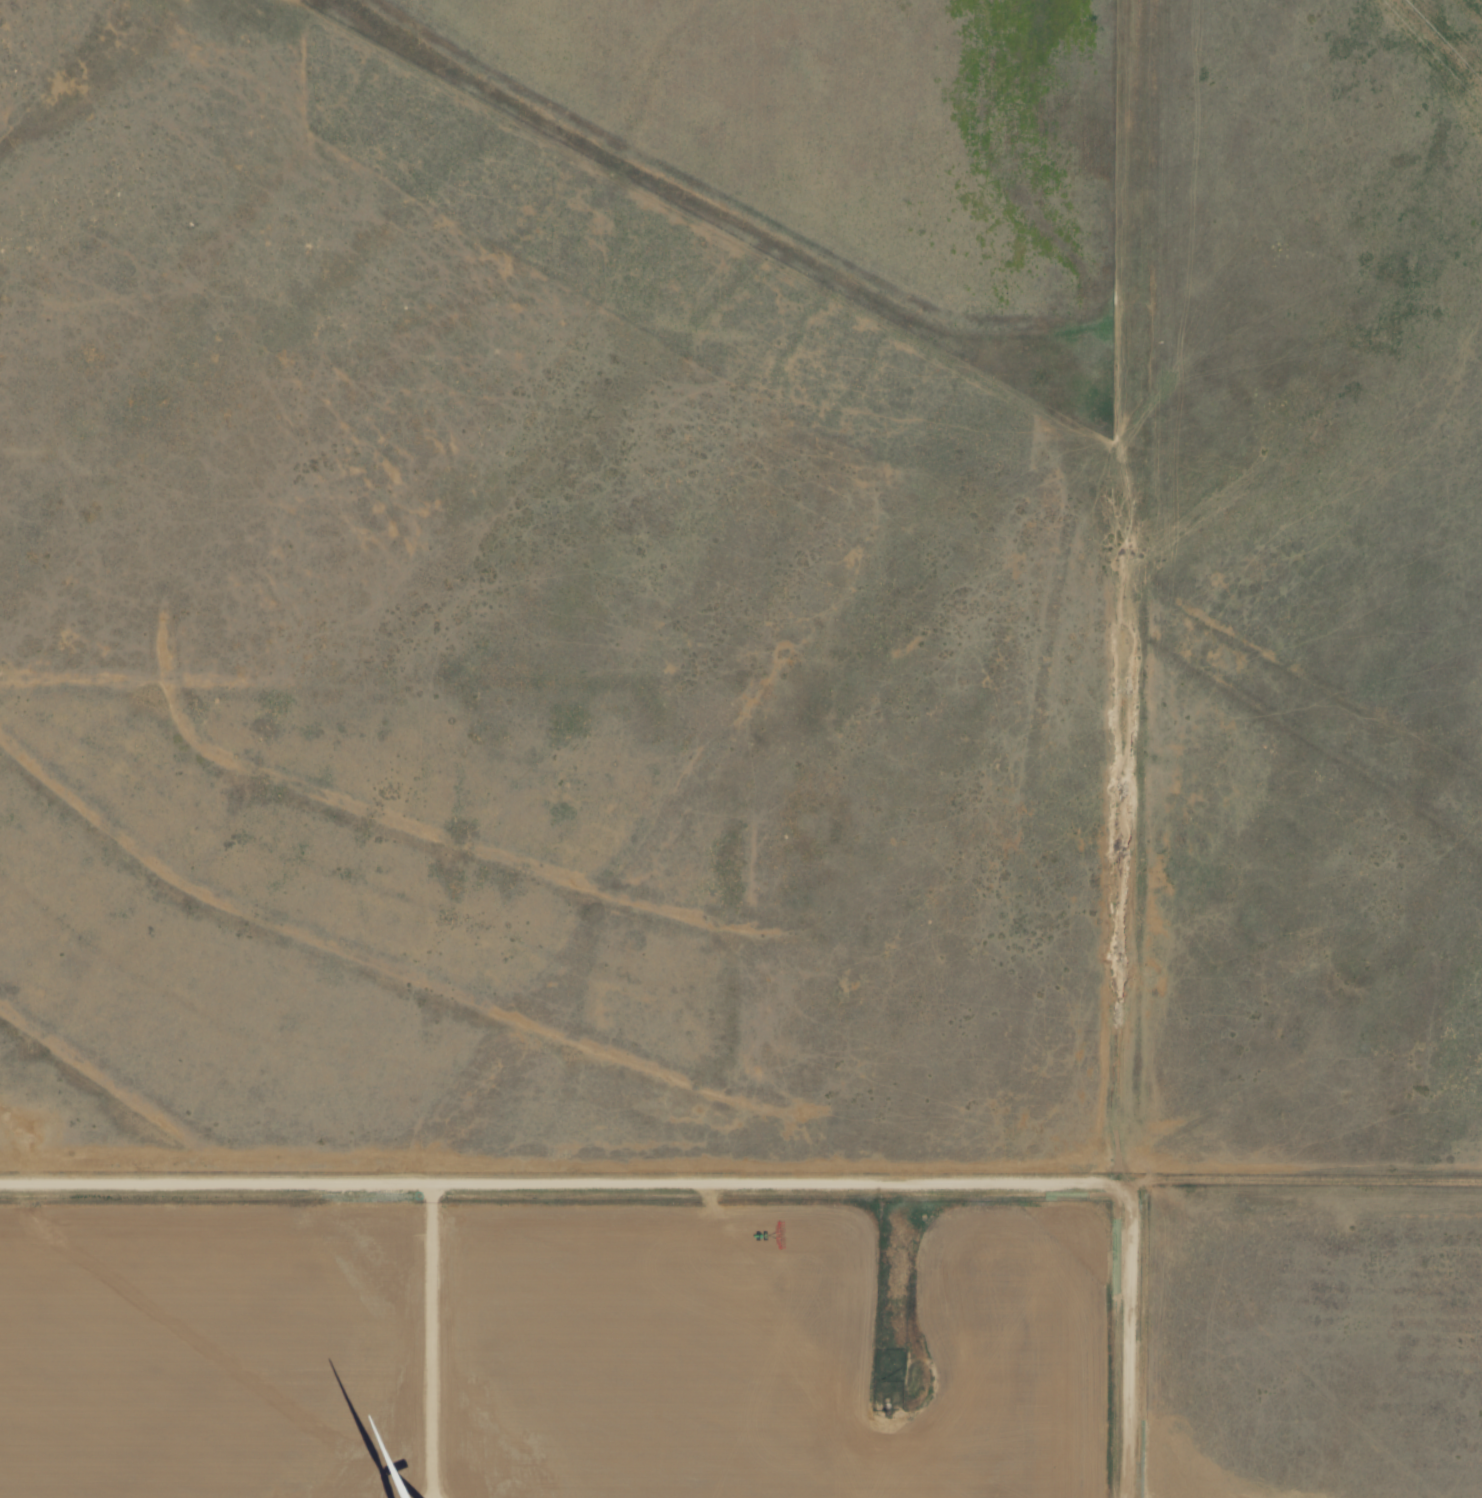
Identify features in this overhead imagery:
road: (741, 1183)
road: (434, 1337)
road: (1129, 1341)

